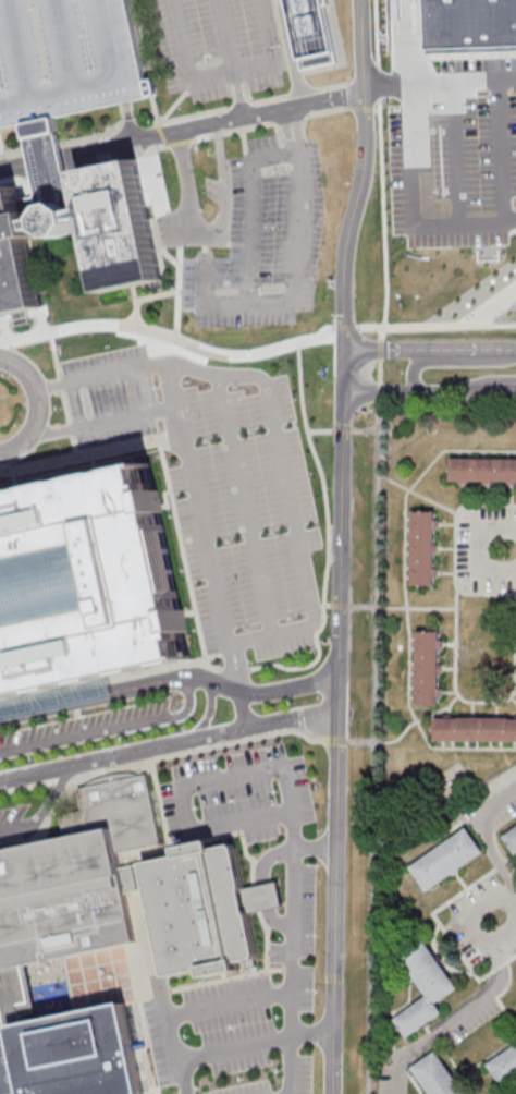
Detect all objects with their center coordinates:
building: (474, 22)
building: (317, 33)
parking lot: (220, 47)
road: (291, 52)
building: (67, 58)
parking lot: (67, 58)
road: (233, 59)
road: (225, 73)
road: (365, 78)
road: (441, 82)
road: (255, 101)
road: (177, 104)
road: (365, 108)
road: (157, 110)
road: (132, 121)
road: (274, 124)
road: (183, 131)
road: (161, 135)
road: (182, 143)
road: (503, 149)
road: (247, 150)
road: (459, 151)
parking lot: (456, 155)
building: (51, 162)
road: (122, 162)
road: (1, 165)
road: (382, 170)
road: (365, 175)
road: (38, 181)
street lamp: (351, 186)
parking lot: (216, 189)
road: (416, 203)
road: (161, 211)
road: (254, 211)
parking lot: (176, 227)
road: (511, 232)
road: (210, 236)
road: (189, 241)
parking lot: (266, 241)
road: (207, 245)
building: (131, 256)
road: (300, 269)
street lamp: (335, 285)
road: (180, 291)
road: (159, 295)
road: (138, 305)
road: (491, 306)
road: (42, 320)
road: (437, 325)
road: (345, 327)
road: (323, 329)
road: (26, 338)
road: (194, 344)
road: (379, 349)
road: (430, 349)
road: (453, 362)
road: (345, 372)
road: (379, 372)
street lamp: (325, 373)
road: (509, 387)
road: (378, 392)
road: (425, 392)
road: (65, 394)
road: (78, 404)
road: (39, 406)
street lamp: (62, 410)
road: (103, 422)
road: (278, 428)
road: (321, 431)
road: (342, 431)
road: (363, 431)
road: (122, 449)
road: (95, 464)
building: (481, 470)
road: (14, 482)
parking lot: (221, 486)
street lamp: (331, 491)
road: (417, 495)
road: (247, 505)
road: (342, 534)
road: (209, 546)
road: (480, 549)
road: (330, 550)
building: (421, 550)
road: (455, 550)
building: (85, 581)
road: (408, 601)
road: (328, 606)
road: (340, 606)
road: (403, 608)
street lamp: (331, 616)
road: (200, 632)
building: (427, 669)
road: (456, 676)
road: (111, 680)
road: (171, 681)
road: (341, 693)
road: (513, 702)
street lamp: (295, 704)
road: (210, 713)
street lamp: (218, 720)
road: (406, 727)
parking lot: (85, 728)
road: (110, 731)
building: (474, 731)
road: (334, 739)
road: (170, 746)
road: (371, 747)
road: (160, 758)
road: (56, 805)
road: (44, 809)
road: (293, 809)
parking lot: (13, 812)
road: (169, 832)
road: (483, 837)
building: (509, 841)
road: (20, 844)
building: (444, 861)
road: (266, 864)
building: (78, 876)
building: (266, 898)
road: (337, 902)
building: (201, 909)
road: (505, 914)
road: (446, 933)
road: (294, 951)
building: (421, 985)
road: (499, 994)
road: (192, 1013)
road: (463, 1014)
building: (15, 1022)
road: (314, 1033)
road: (238, 1049)
building: (84, 1054)
road: (480, 1062)
road: (4, 1063)
building: (506, 1068)
building: (8, 1072)
building: (433, 1077)
road: (508, 1089)

